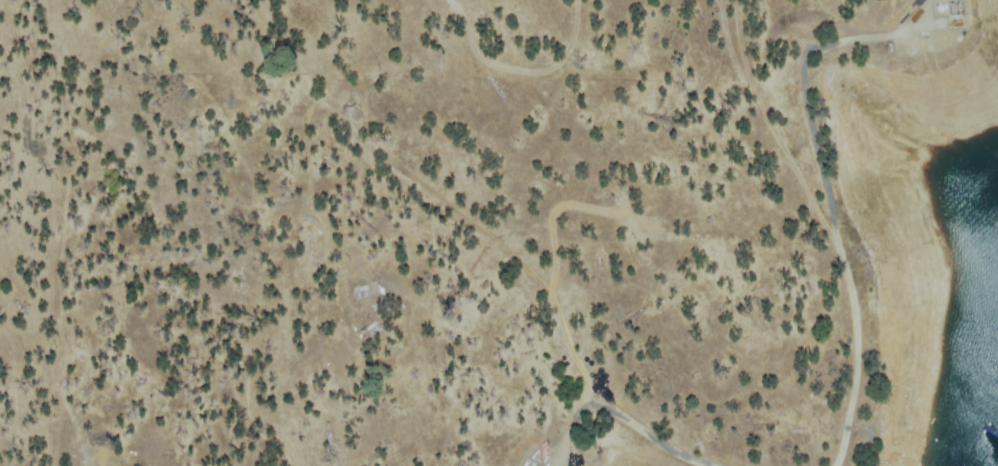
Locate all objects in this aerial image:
building: (955, 9)
road: (825, 224)
road: (620, 414)

